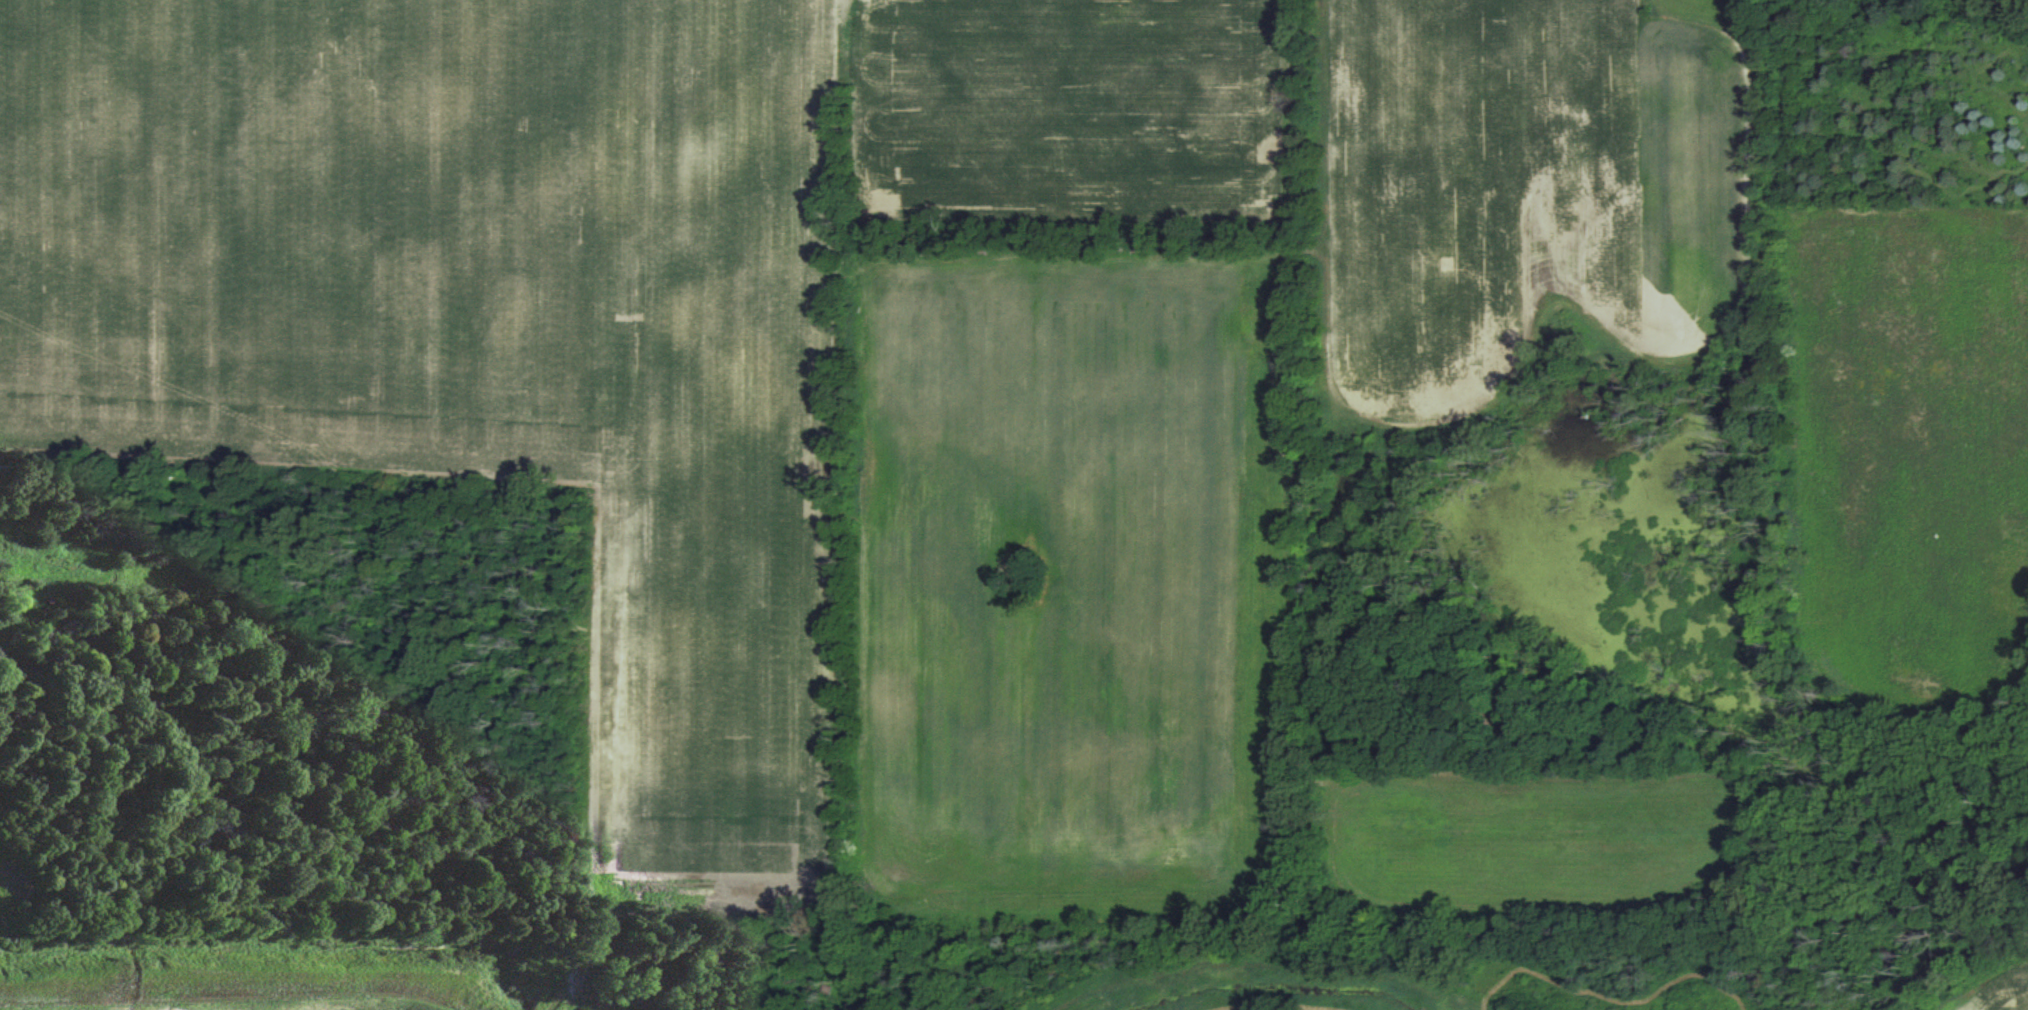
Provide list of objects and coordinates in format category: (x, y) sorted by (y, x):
crop: (483, 327)

